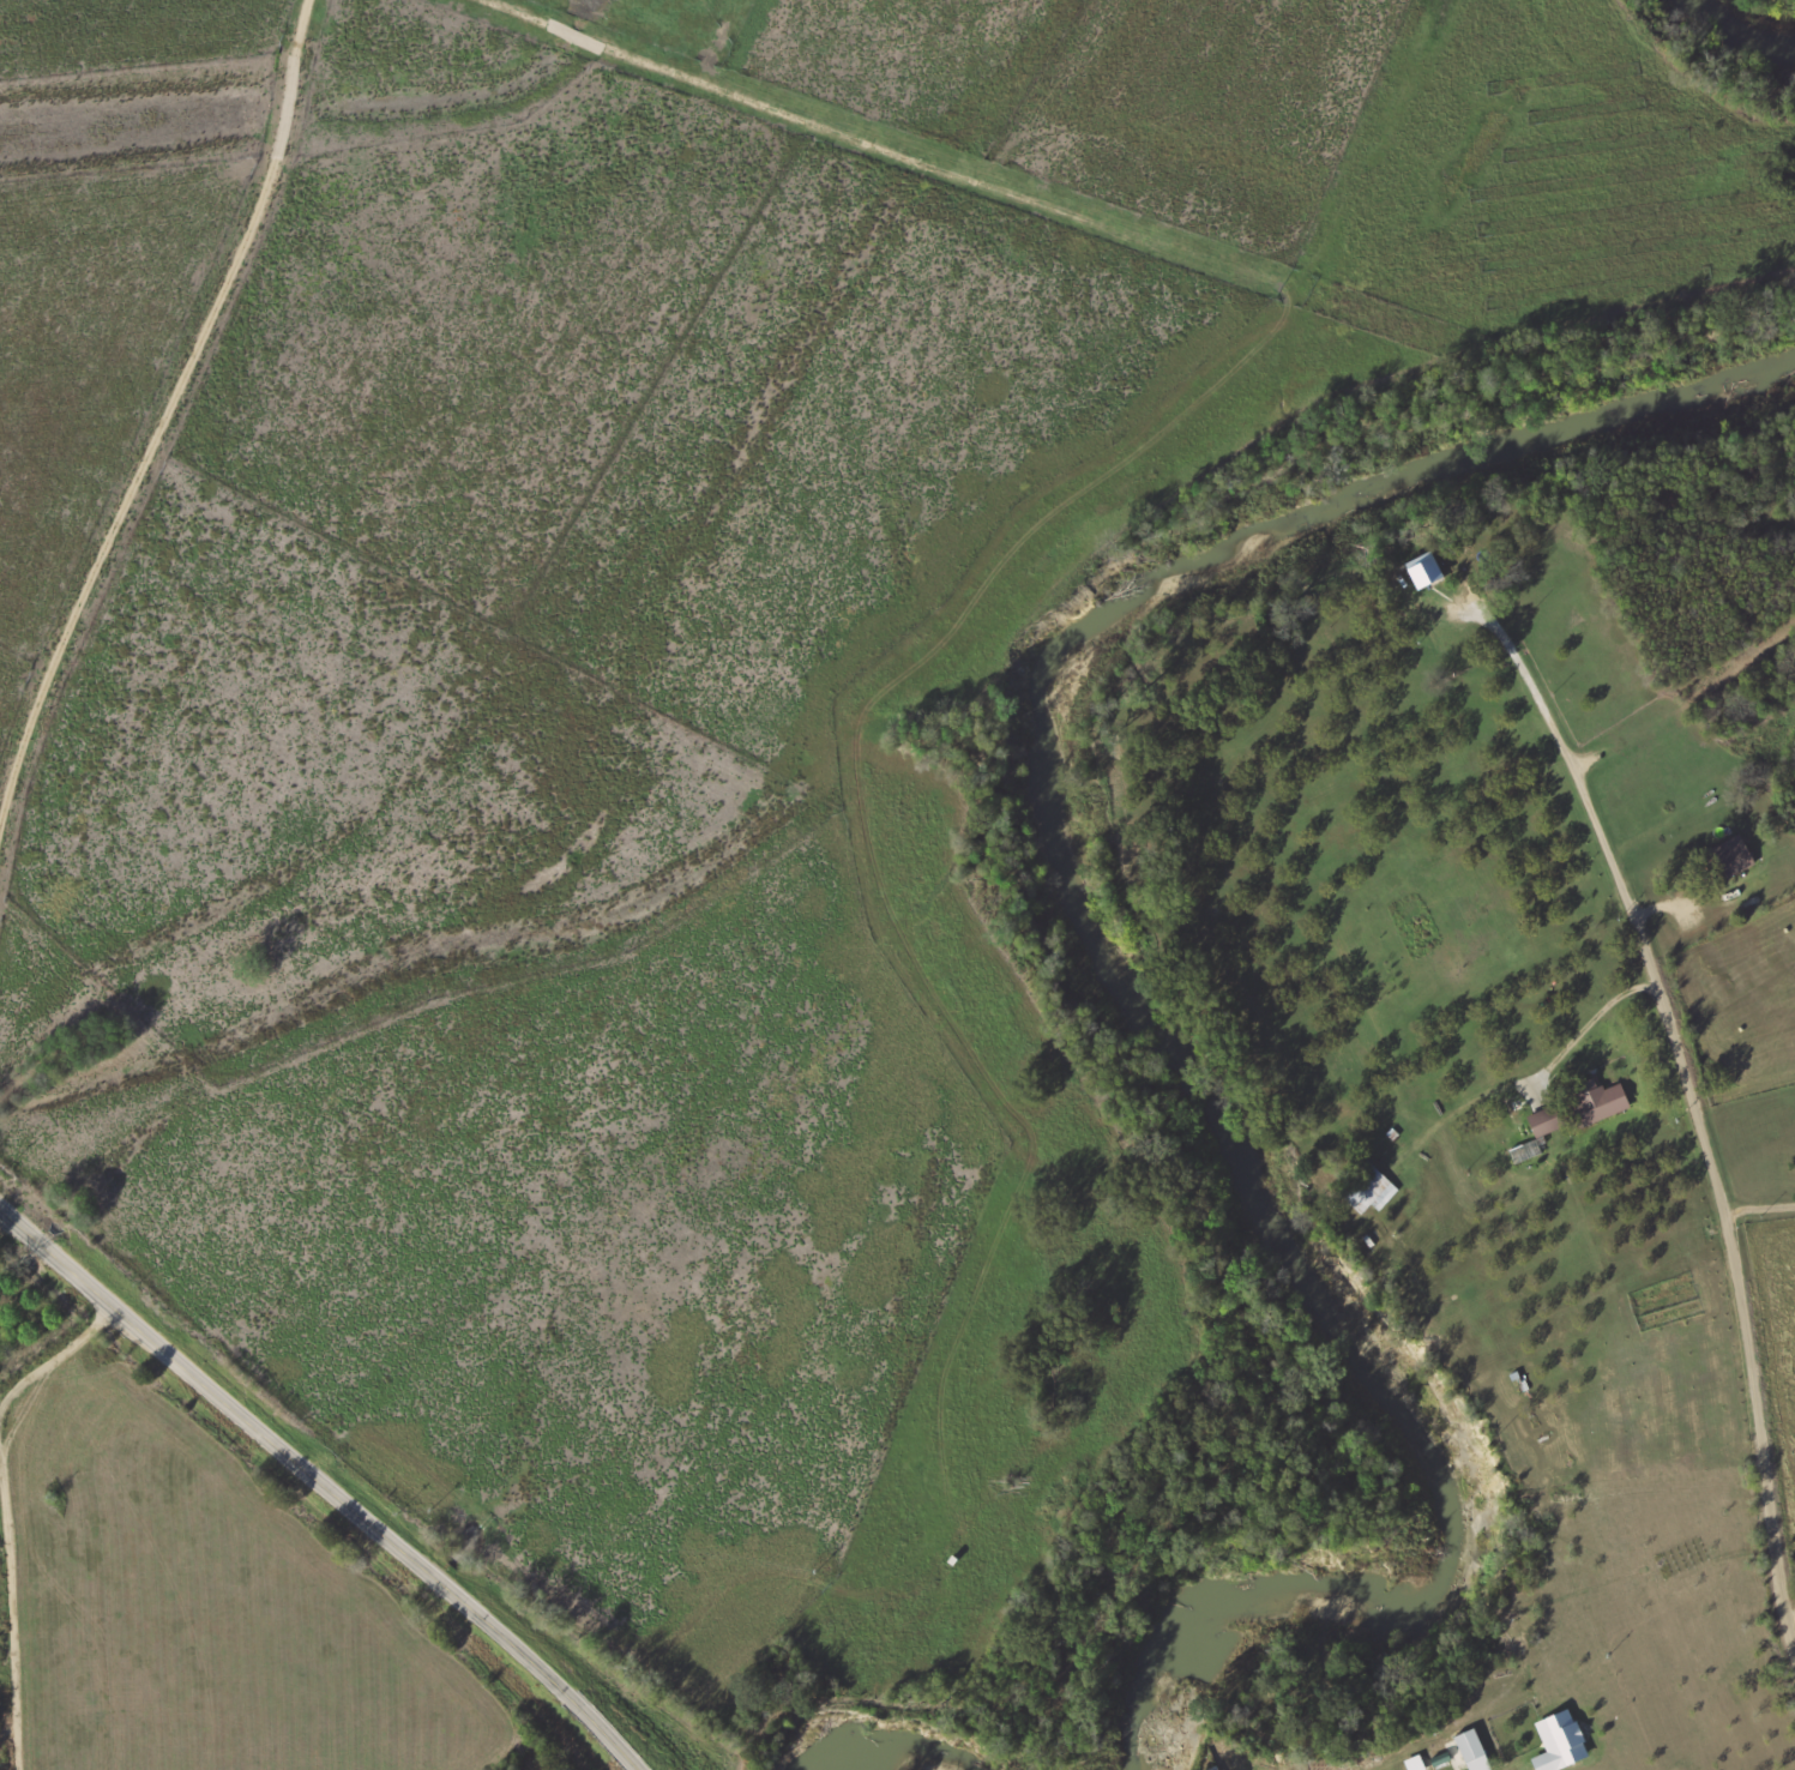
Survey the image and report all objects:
river: (1739, 37)
road: (1393, 824)
building: (1729, 860)
river: (1139, 991)
road: (1688, 1094)
building: (1597, 1103)
building: (1547, 1122)
road: (1758, 1211)
road: (52, 1353)
road: (321, 1486)
road: (1790, 1615)
road: (8, 1631)
building: (1562, 1744)
building: (1474, 1751)
river: (896, 1758)

